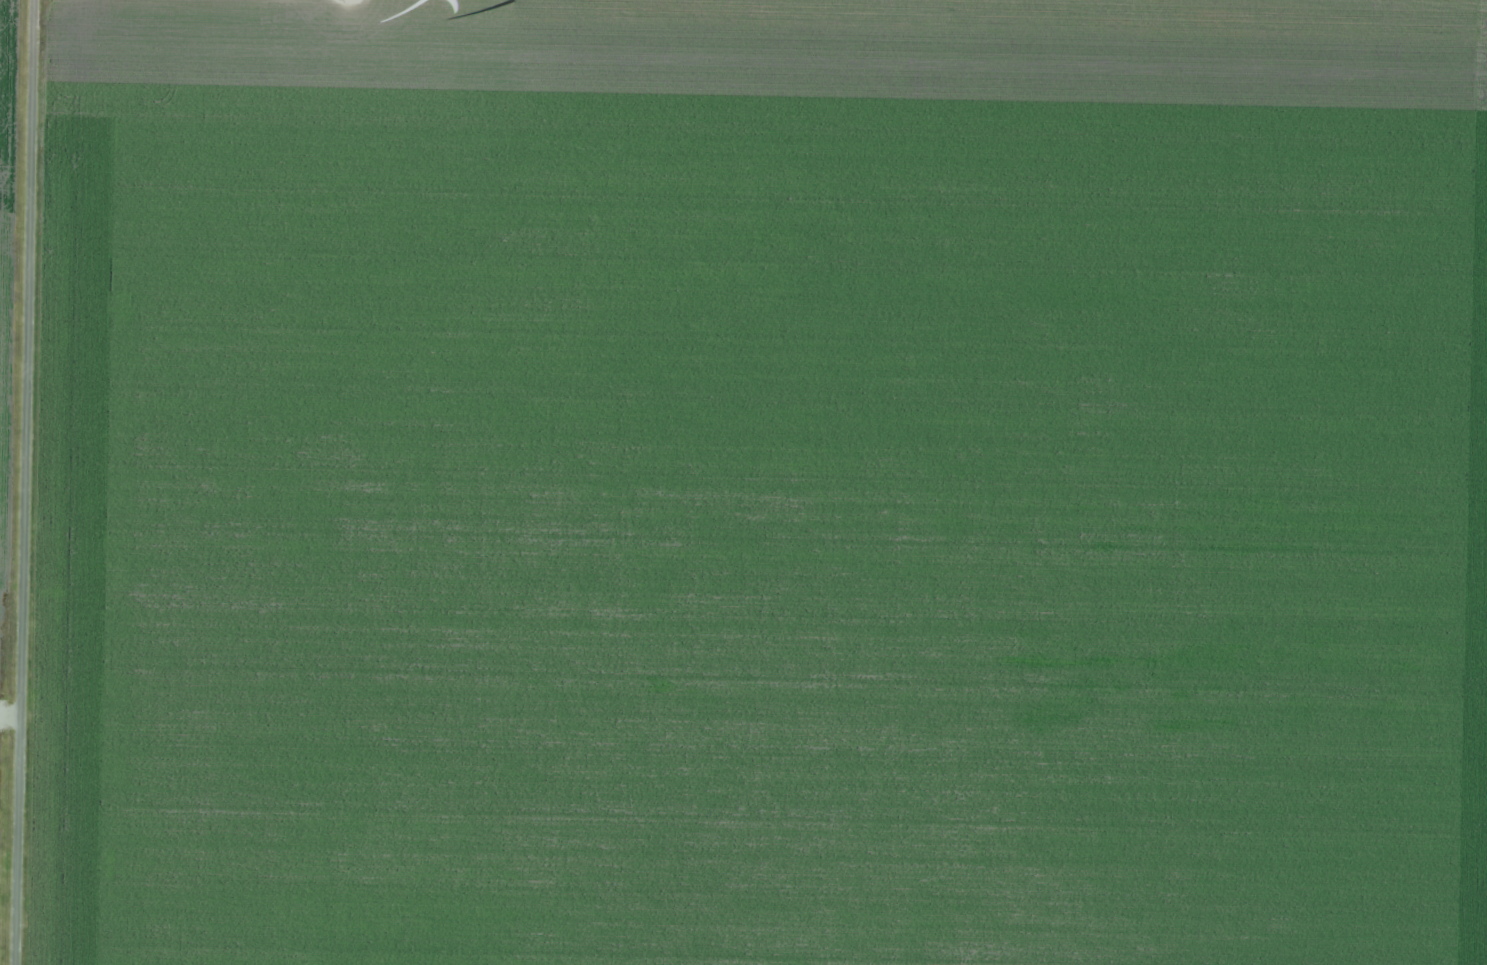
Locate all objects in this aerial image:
road: (17, 482)

